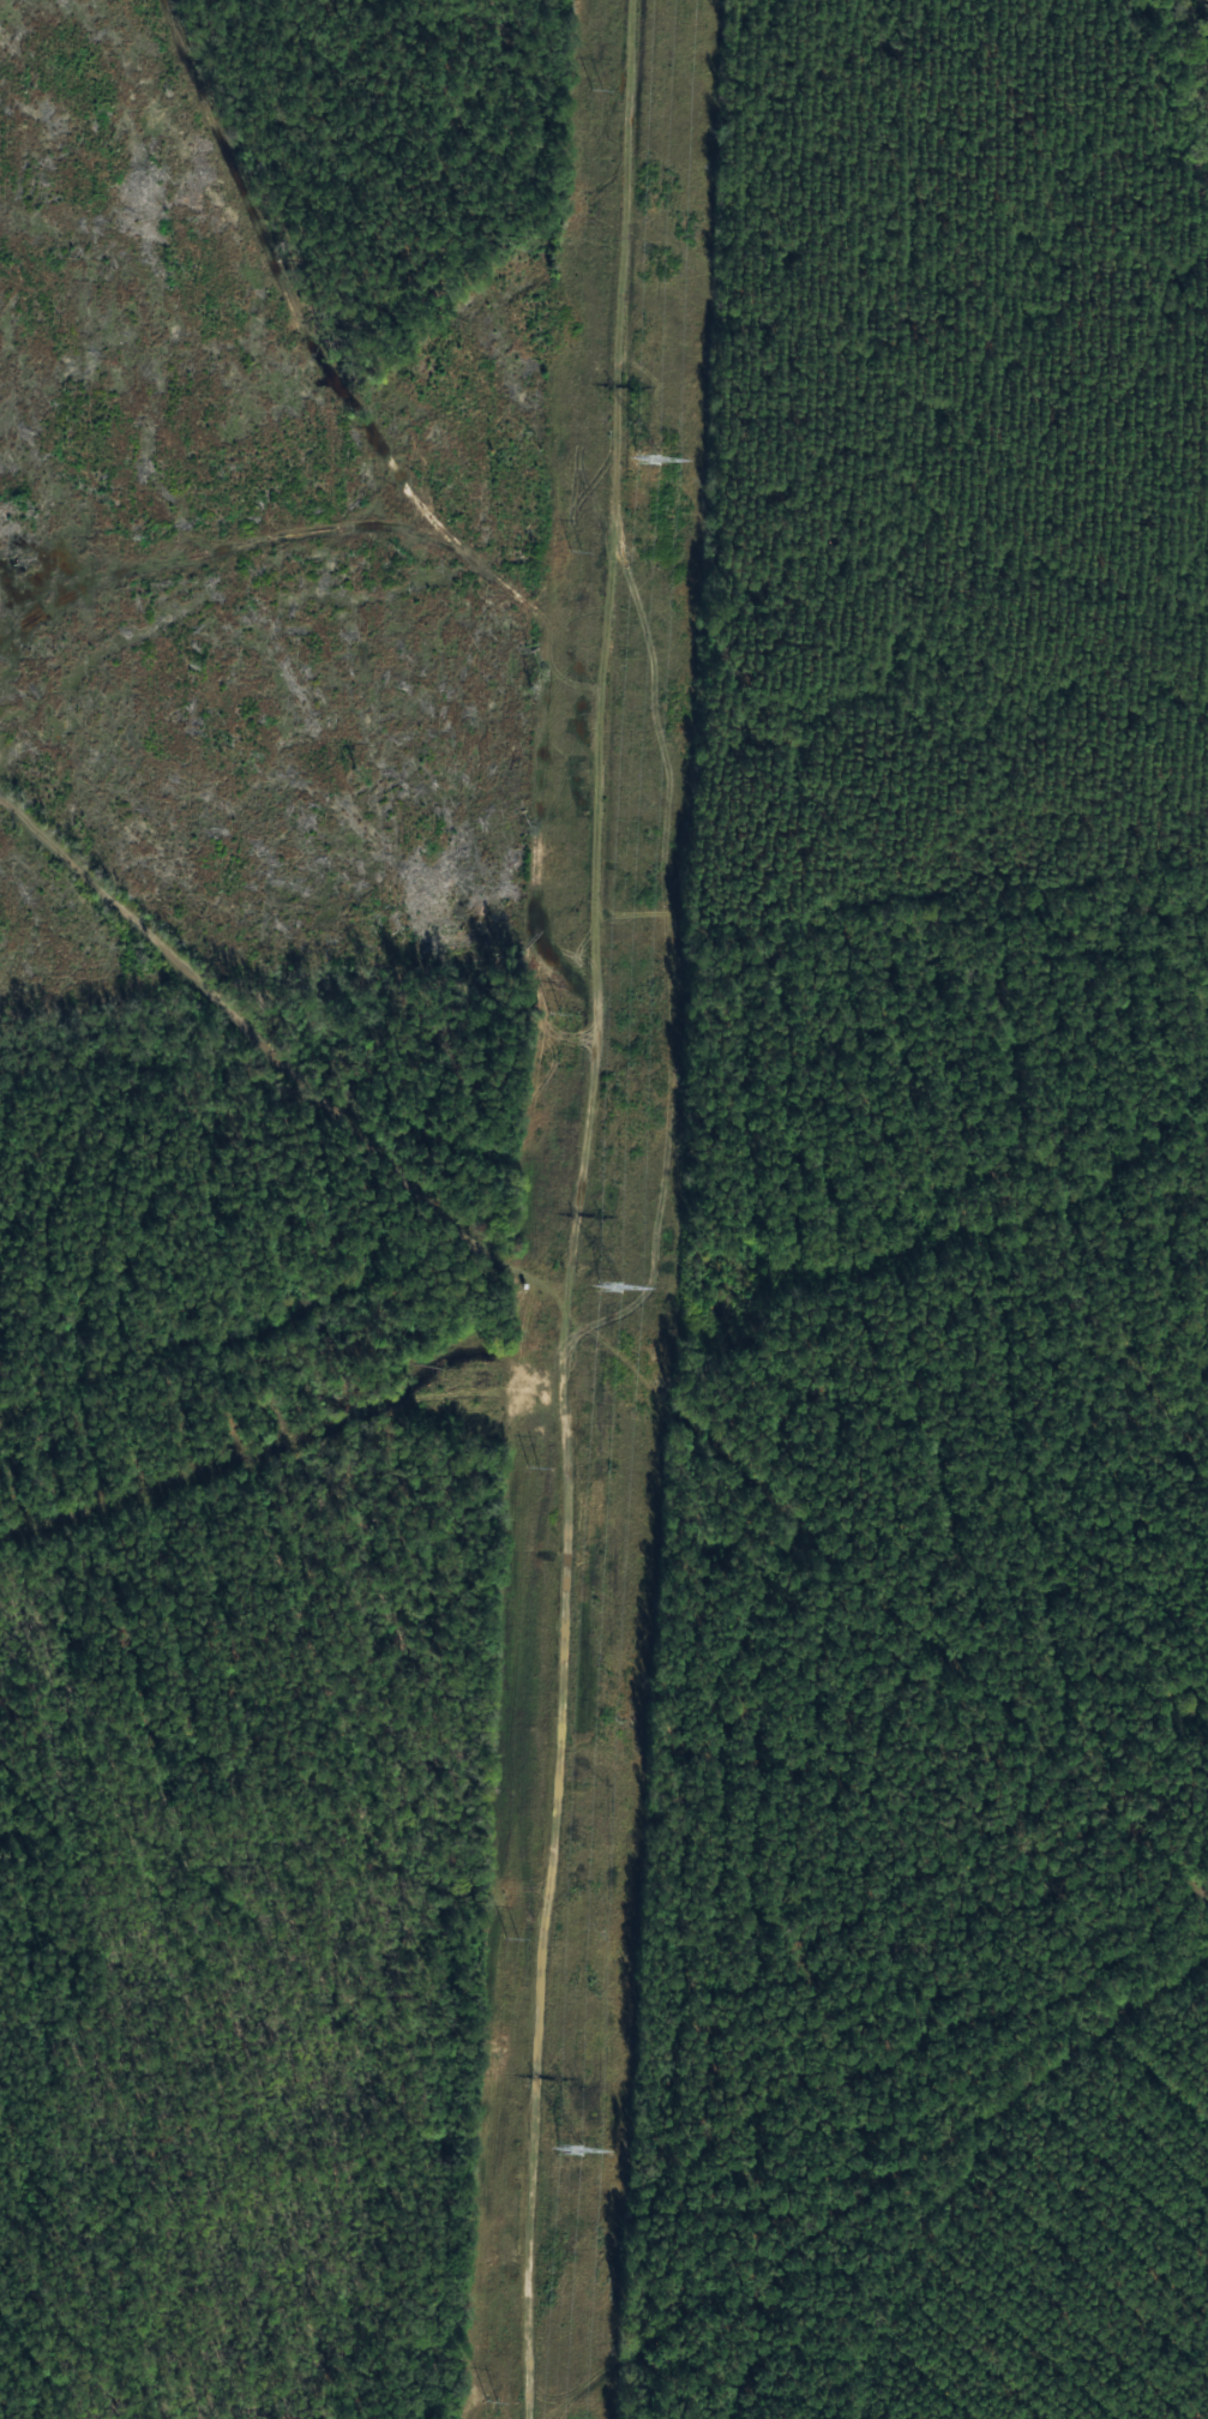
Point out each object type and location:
power tower: (638, 458)
power tower: (603, 1287)
road: (172, 1343)
power tower: (561, 2155)

